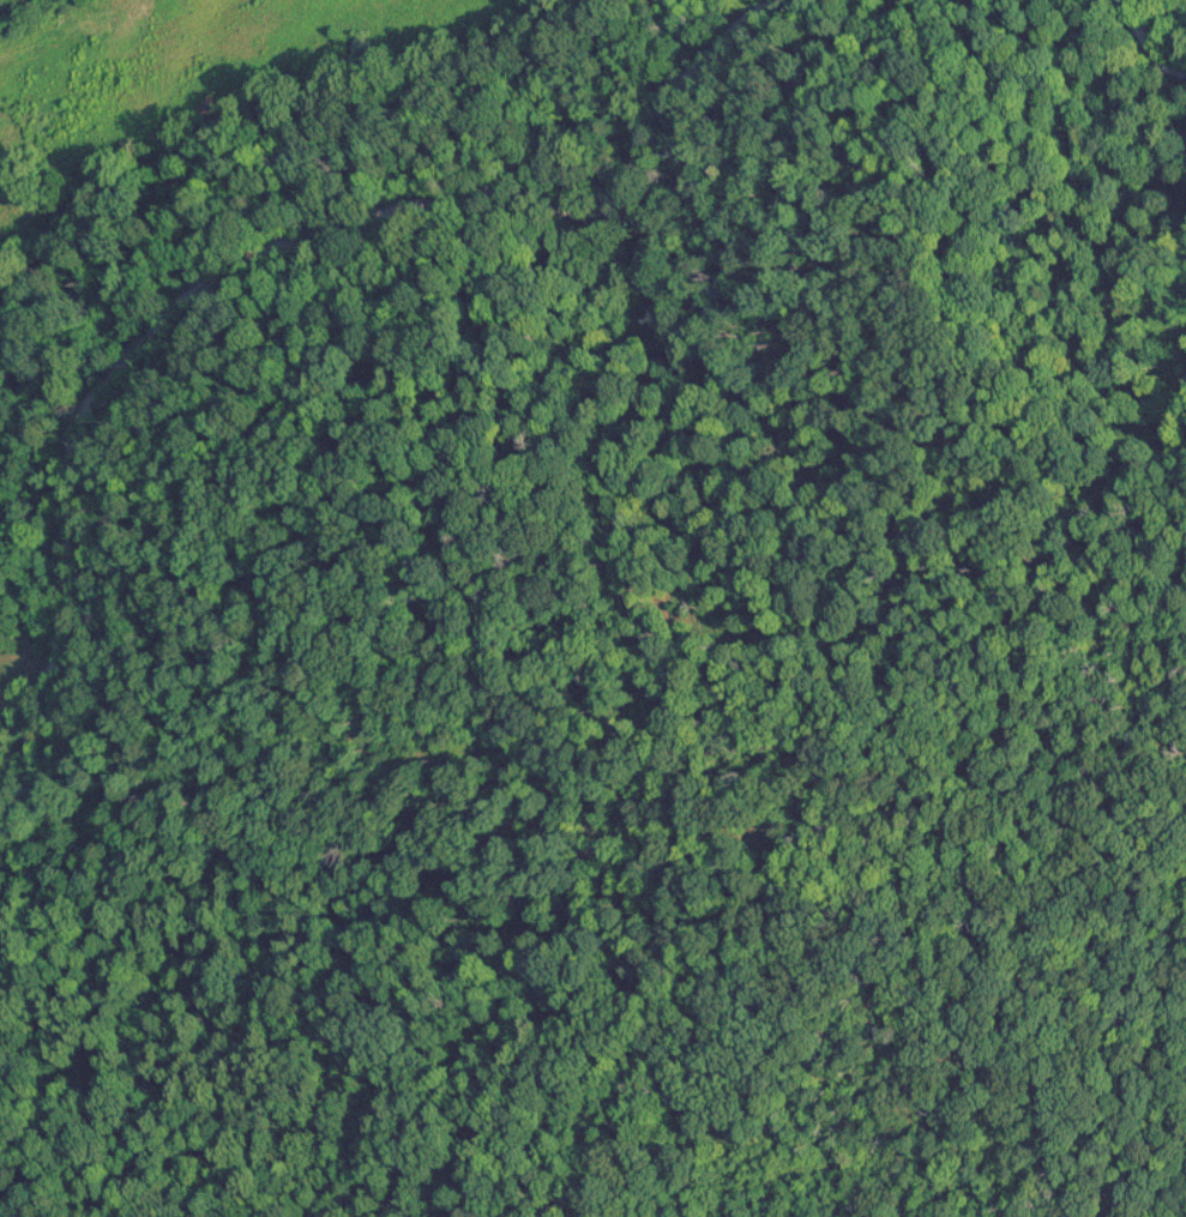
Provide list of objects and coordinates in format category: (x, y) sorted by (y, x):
road: (1149, 26)
road: (219, 242)

